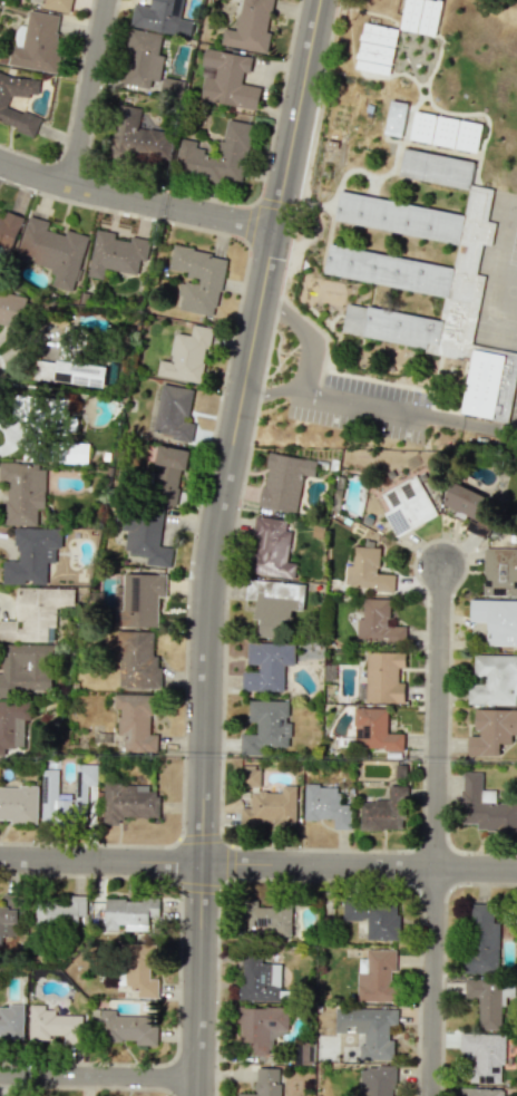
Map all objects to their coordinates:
building: (59, 4)
building: (420, 16)
building: (160, 17)
building: (250, 27)
building: (37, 41)
park: (431, 46)
building: (375, 48)
building: (143, 60)
building: (228, 79)
road: (87, 94)
building: (3, 103)
building: (394, 118)
building: (445, 132)
building: (139, 137)
building: (218, 155)
road: (136, 203)
building: (9, 230)
building: (53, 251)
building: (116, 253)
building: (363, 256)
building: (198, 279)
building: (12, 309)
building: (187, 356)
road: (302, 361)
building: (70, 372)
building: (488, 385)
parking lot: (361, 407)
road: (407, 410)
building: (173, 413)
road: (236, 429)
building: (68, 452)
building: (170, 463)
building: (284, 481)
building: (23, 492)
building: (407, 505)
building: (466, 506)
building: (144, 535)
building: (271, 547)
building: (31, 555)
building: (367, 570)
building: (499, 571)
building: (138, 600)
building: (271, 604)
building: (36, 613)
building: (496, 620)
building: (377, 622)
building: (137, 661)
building: (266, 666)
building: (26, 669)
building: (382, 678)
building: (494, 680)
building: (136, 721)
building: (13, 724)
building: (265, 727)
building: (373, 730)
building: (490, 730)
building: (251, 775)
building: (50, 793)
building: (129, 802)
building: (18, 803)
building: (325, 806)
building: (485, 806)
building: (271, 807)
building: (384, 811)
road: (438, 831)
road: (103, 861)
road: (361, 867)
building: (59, 910)
building: (129, 913)
building: (270, 918)
building: (374, 918)
building: (9, 919)
building: (481, 939)
building: (139, 970)
building: (377, 976)
road: (201, 980)
building: (260, 980)
building: (486, 1001)
building: (11, 1021)
building: (53, 1025)
building: (124, 1027)
building: (262, 1027)
building: (369, 1029)
building: (484, 1056)
road: (98, 1076)
building: (377, 1080)
building: (266, 1083)
building: (480, 1092)

